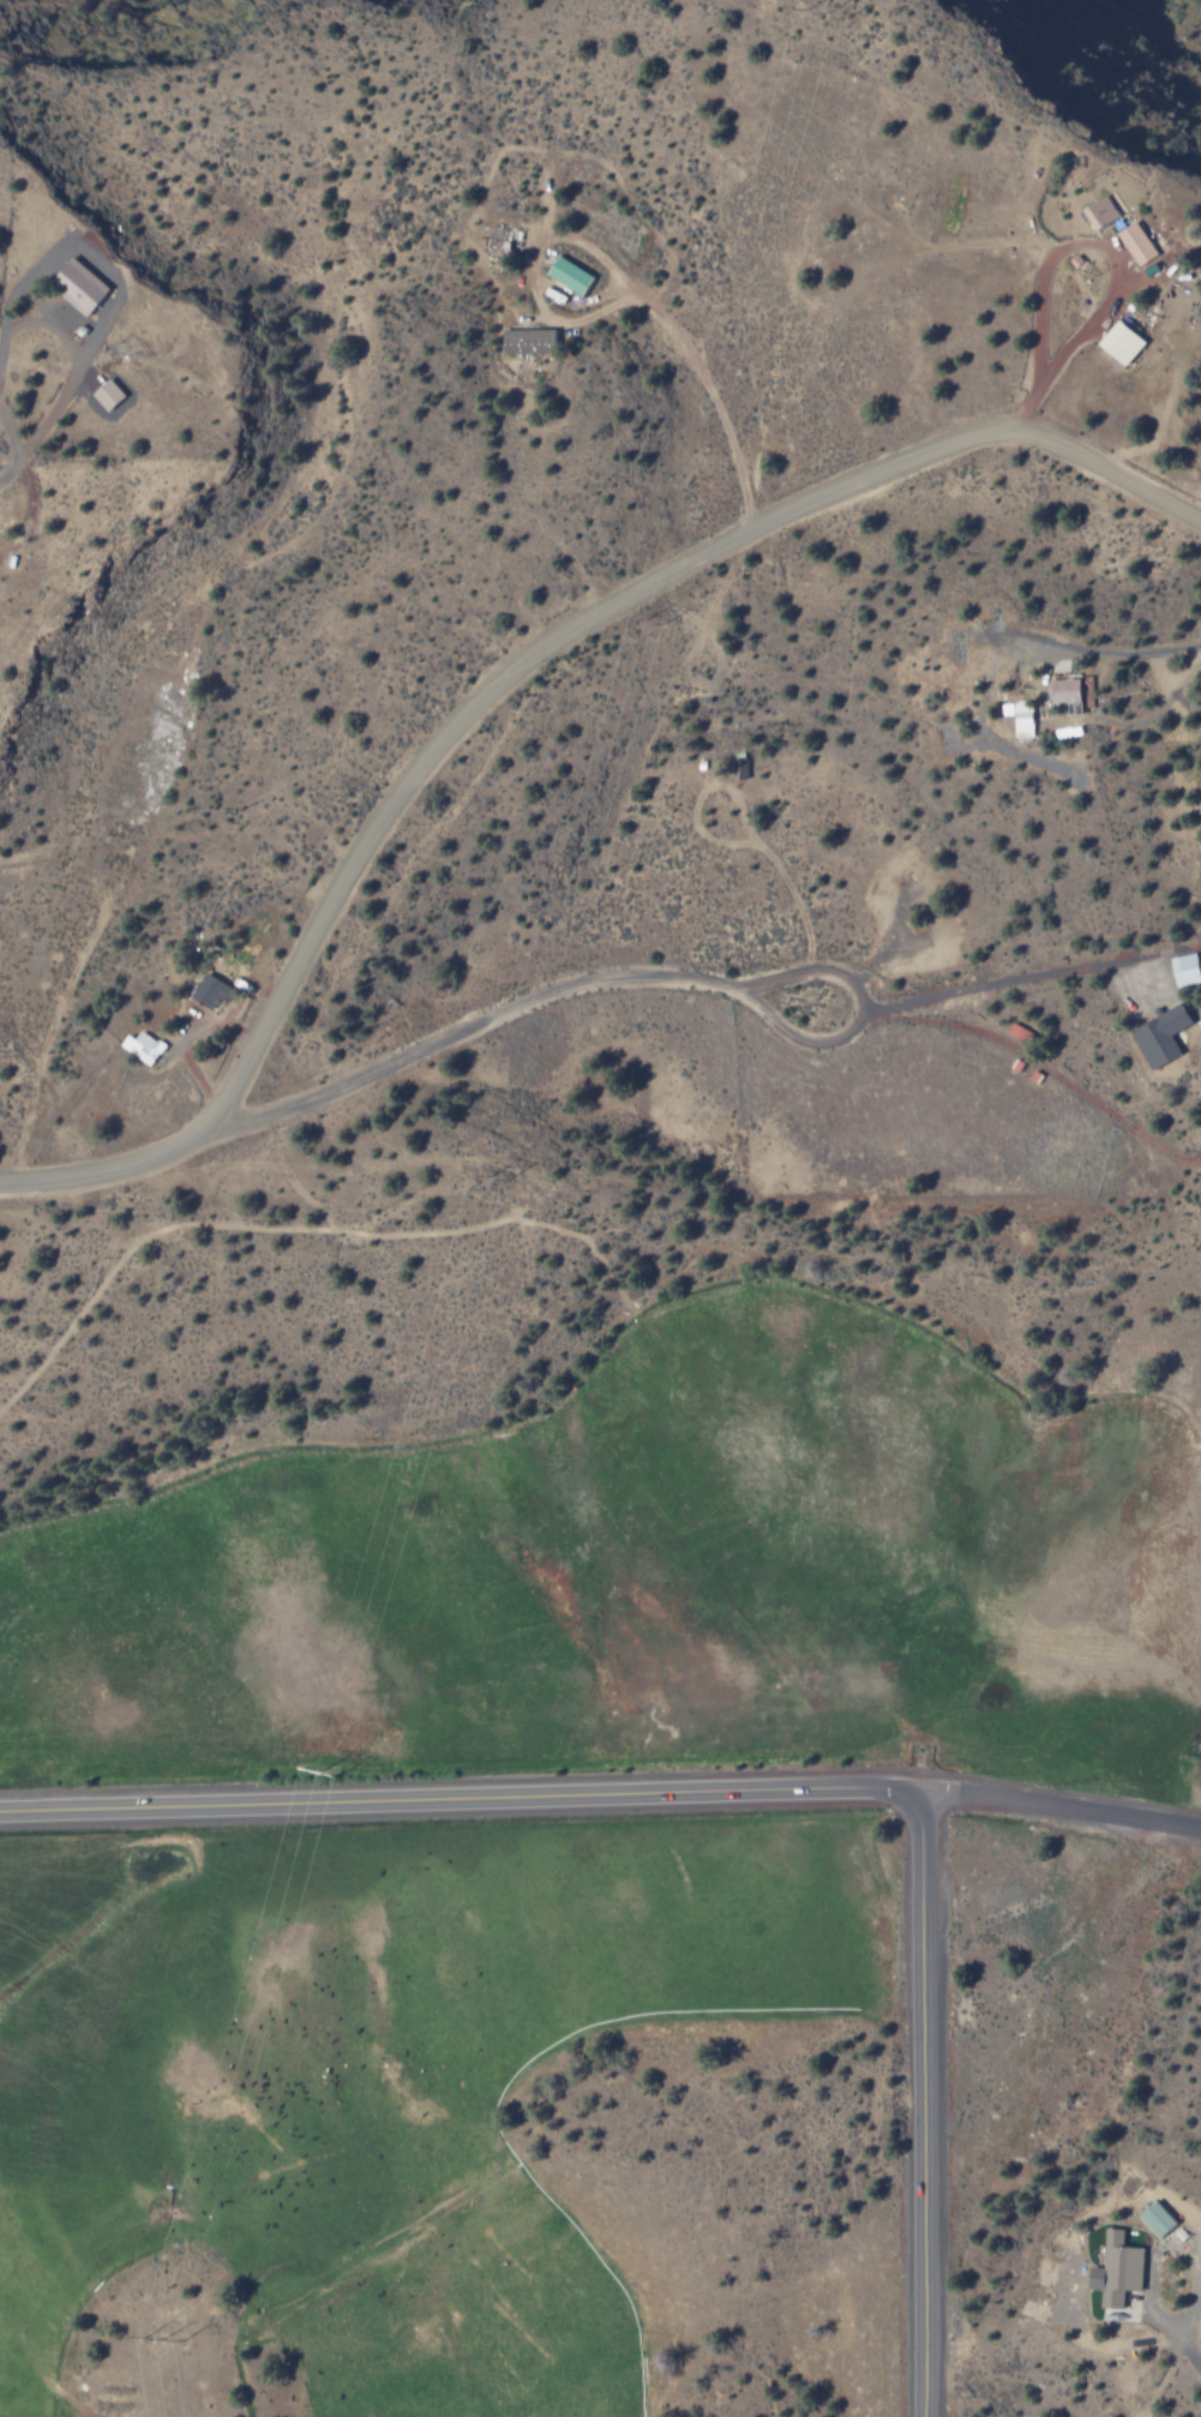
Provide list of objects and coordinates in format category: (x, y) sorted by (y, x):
power tower: (818, 14)
building: (1095, 211)
building: (1133, 244)
road: (1117, 262)
road: (623, 272)
building: (564, 275)
building: (83, 287)
building: (524, 341)
building: (112, 395)
road: (1, 437)
road: (10, 451)
road: (600, 610)
power tower: (654, 620)
road: (1123, 650)
building: (1062, 694)
building: (1015, 718)
building: (1183, 970)
road: (618, 977)
building: (211, 990)
road: (882, 1020)
building: (1157, 1036)
building: (145, 1048)
road: (107, 1169)
power tower: (492, 1178)
crop: (639, 1581)
power tower: (326, 1774)
road: (460, 1799)
road: (1061, 1806)
crop: (376, 2075)
road: (923, 2104)
building: (1152, 2218)
building: (1112, 2269)
power tower: (161, 2339)

